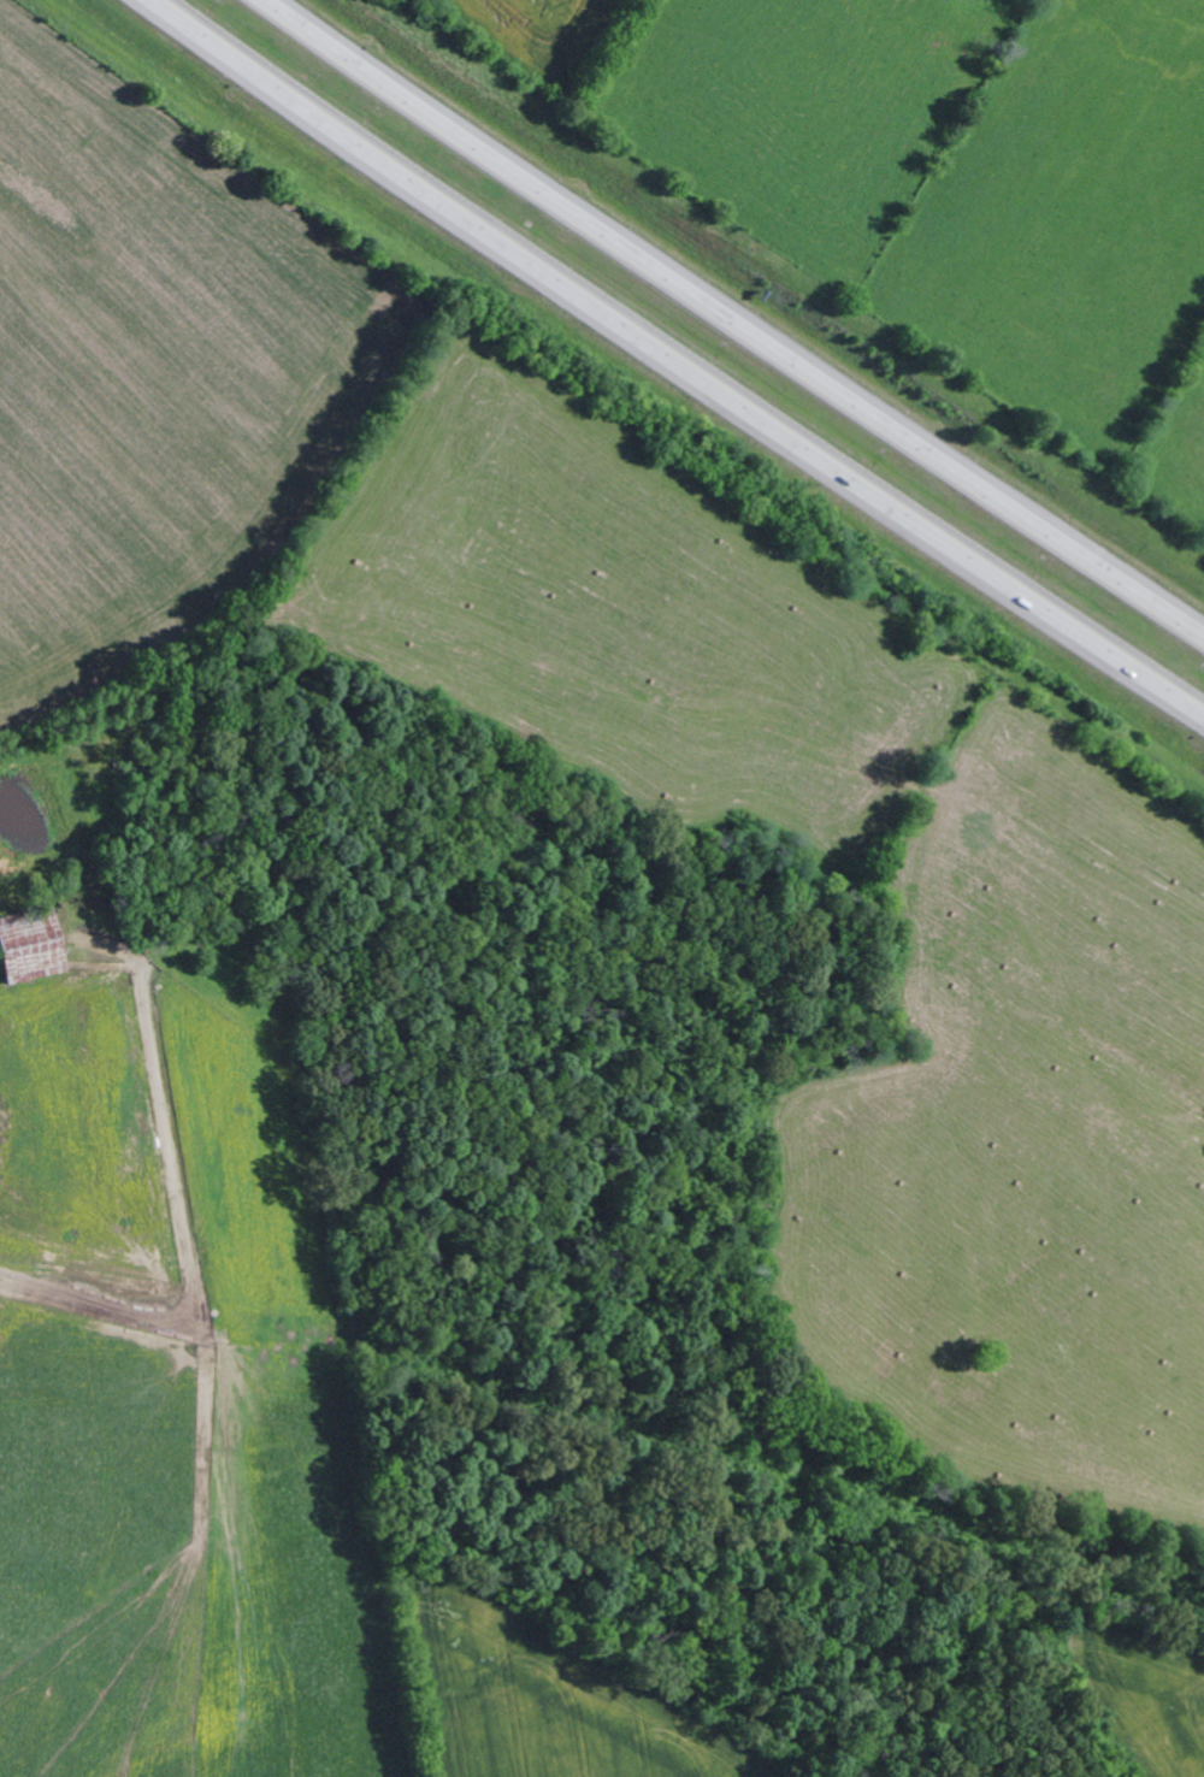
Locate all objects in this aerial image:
road: (733, 319)
road: (674, 362)
building: (29, 949)
road: (152, 1203)

